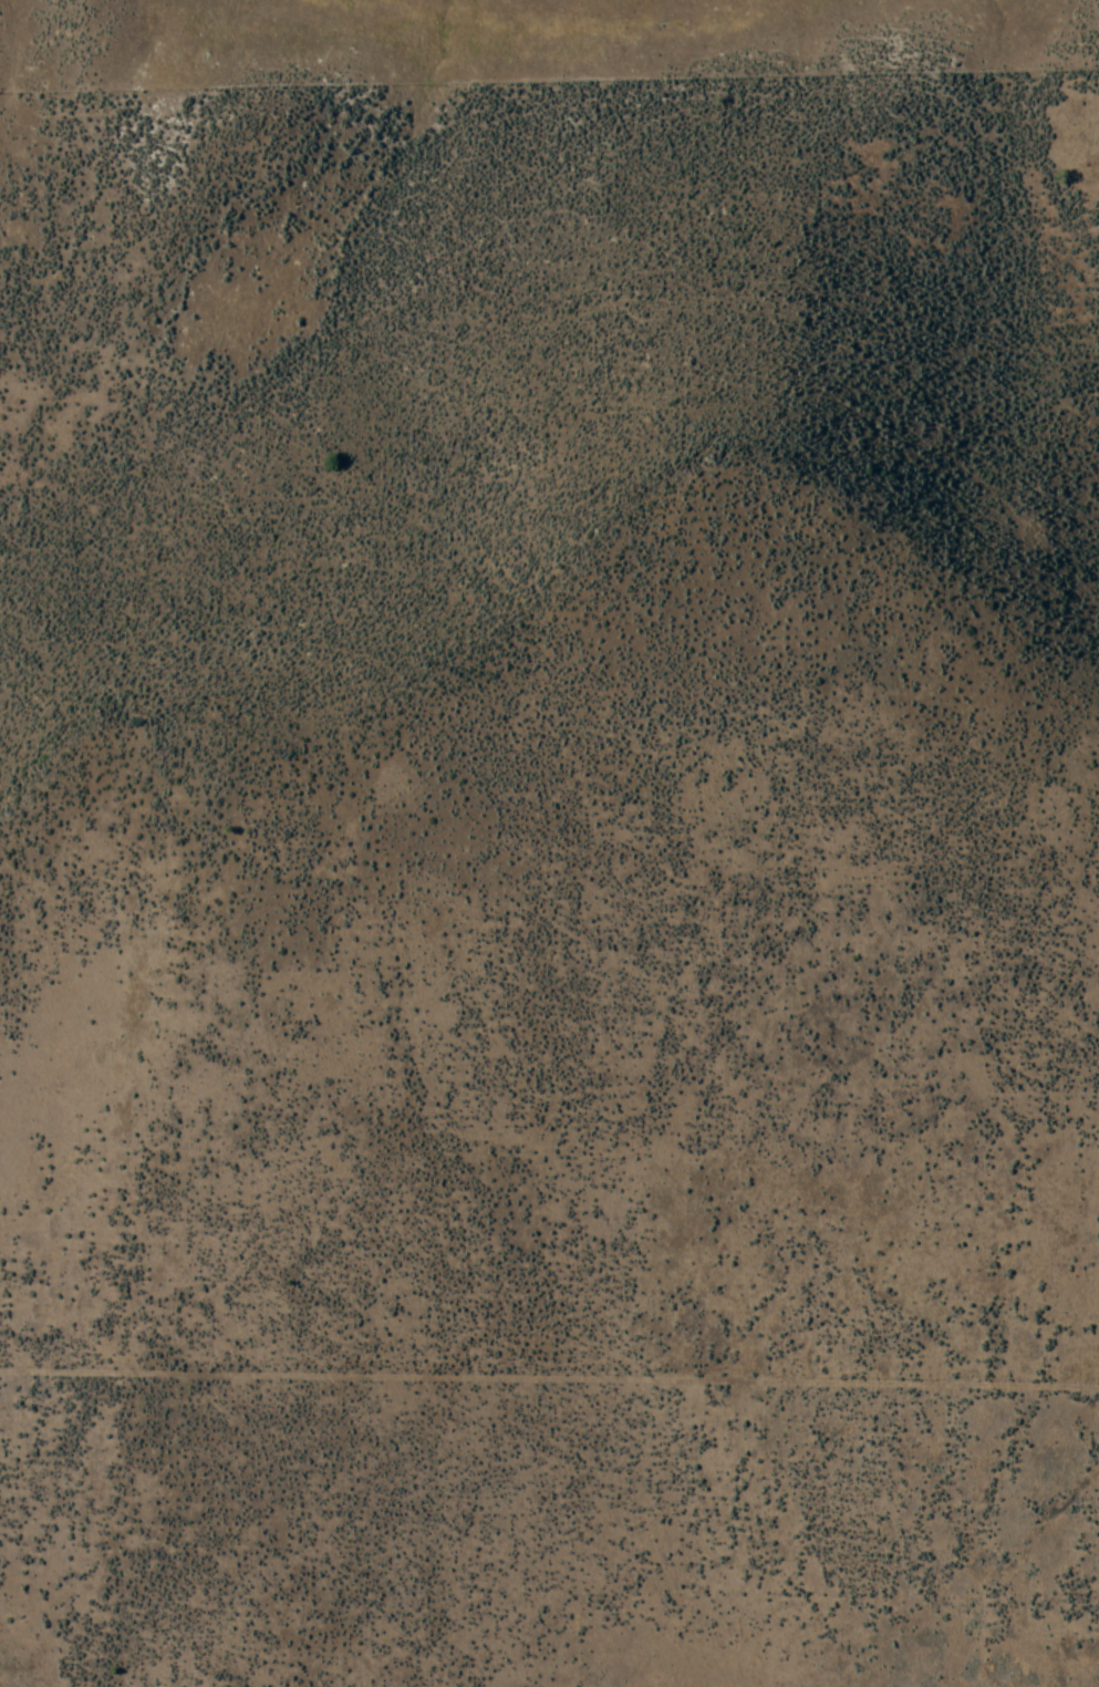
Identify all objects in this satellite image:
road: (549, 1379)

